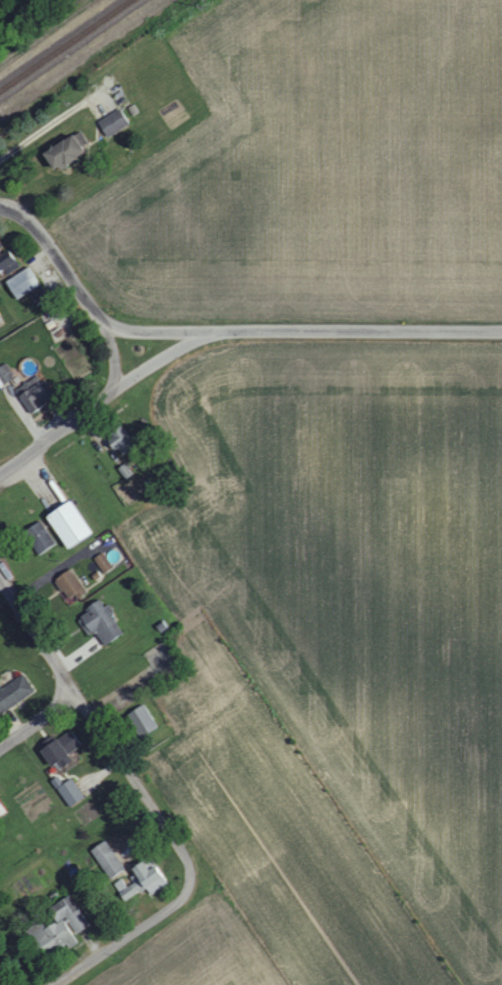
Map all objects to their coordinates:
railway: (64, 45)
road: (58, 120)
building: (112, 120)
building: (60, 148)
building: (9, 260)
building: (25, 281)
road: (89, 305)
road: (359, 330)
road: (111, 357)
building: (6, 373)
building: (37, 392)
road: (104, 396)
building: (122, 437)
building: (72, 523)
building: (41, 536)
building: (105, 561)
building: (72, 584)
building: (102, 622)
building: (15, 692)
road: (38, 718)
building: (144, 719)
road: (108, 733)
building: (61, 747)
building: (70, 790)
building: (109, 858)
building: (144, 879)
building: (65, 924)
road: (117, 940)
road: (2, 980)

